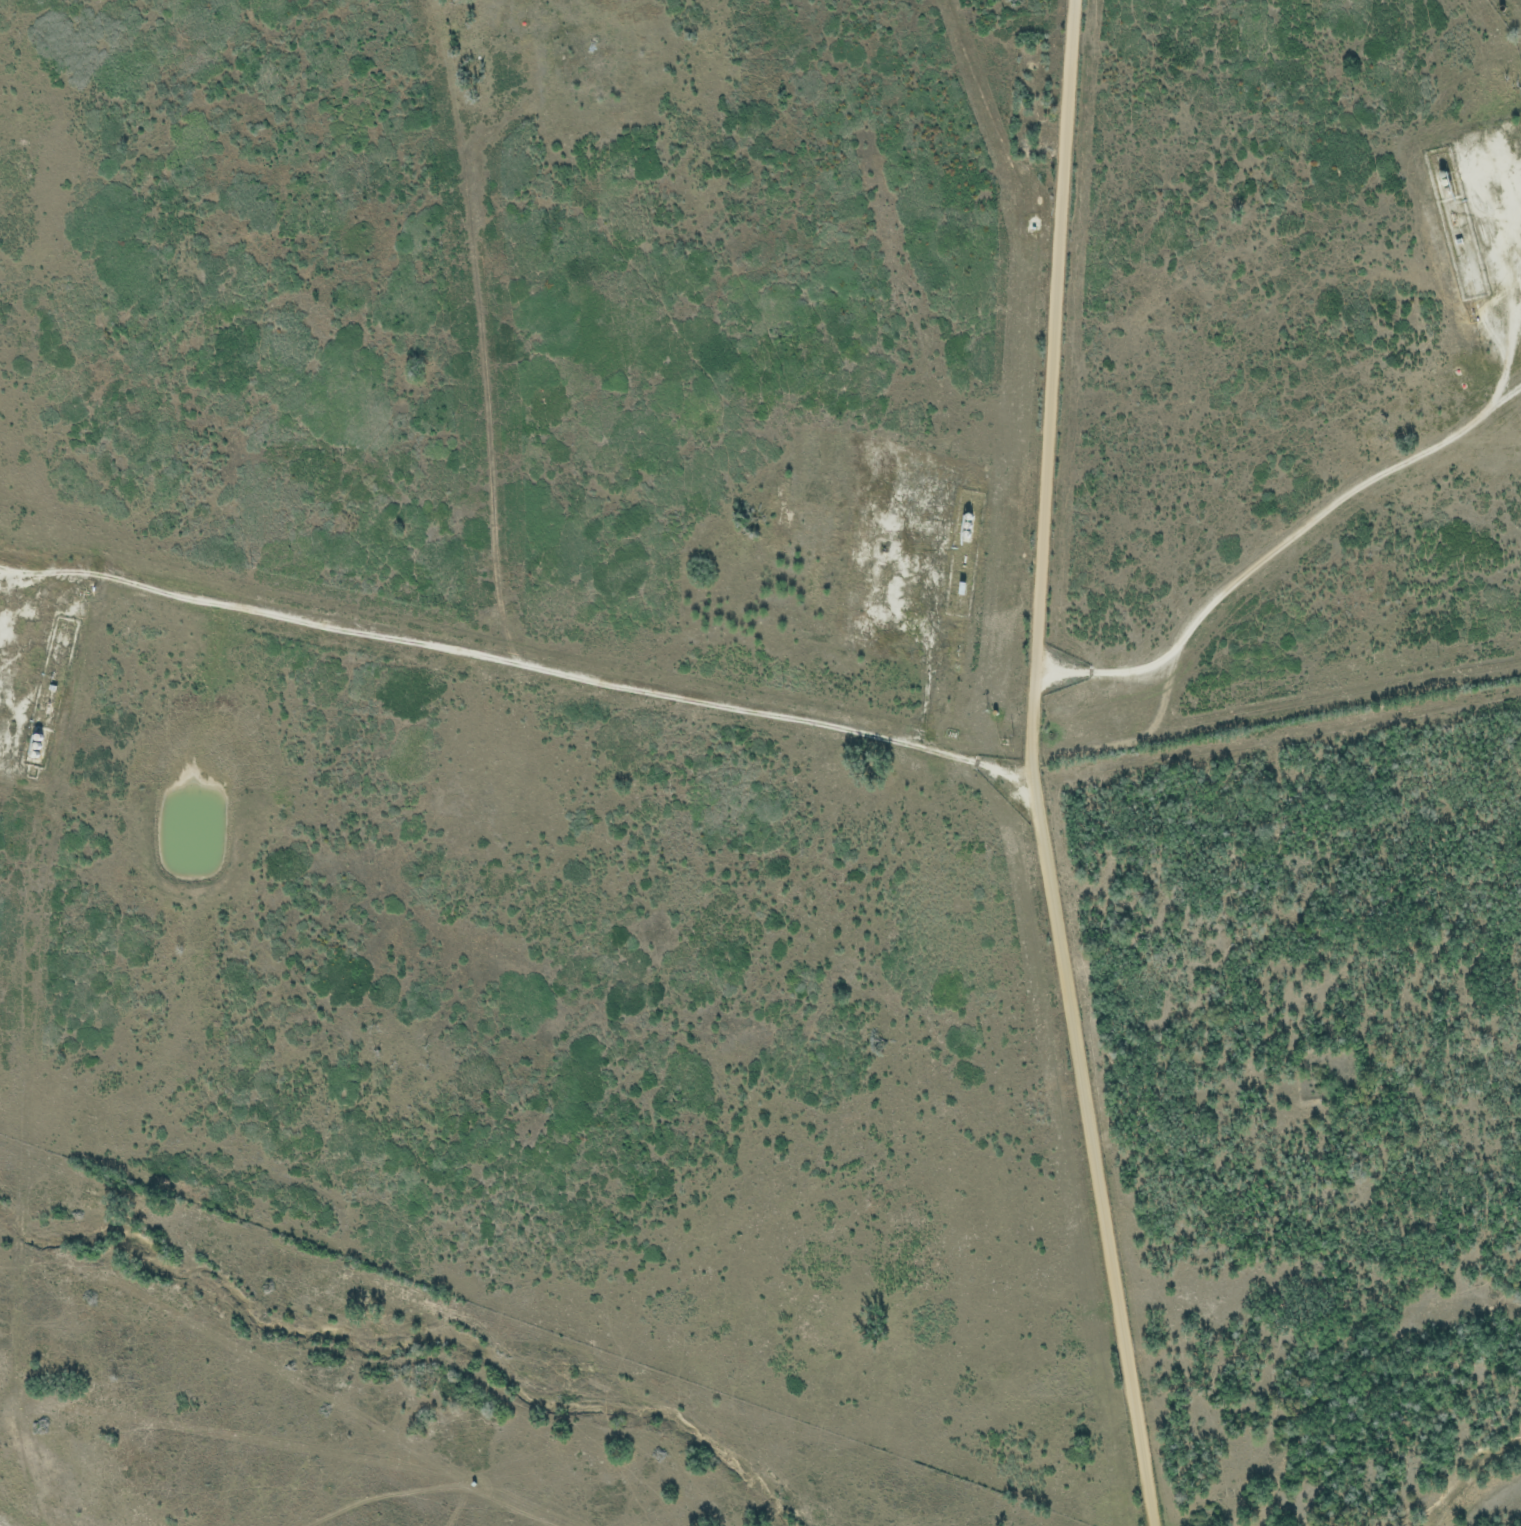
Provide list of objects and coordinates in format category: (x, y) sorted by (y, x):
road: (1038, 767)

